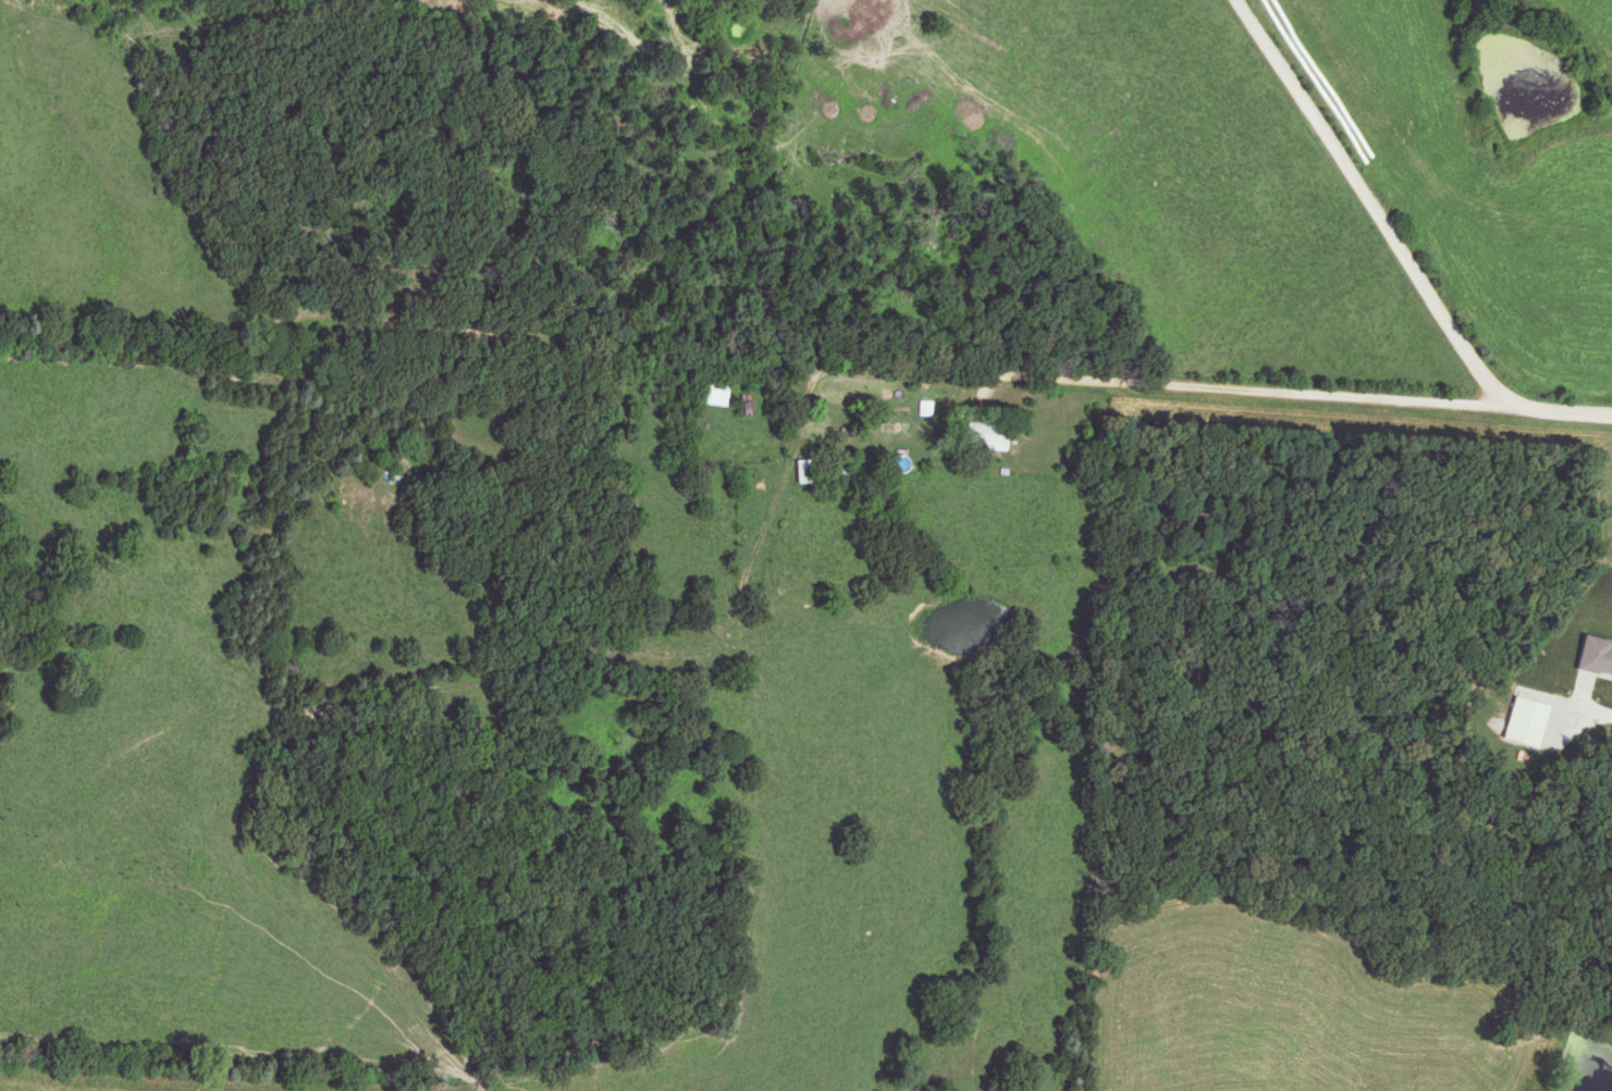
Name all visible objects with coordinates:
park: (745, 10)
building: (857, 27)
building: (873, 54)
road: (1349, 207)
building: (714, 393)
road: (1059, 407)
building: (925, 409)
building: (993, 437)
building: (809, 472)
building: (1590, 657)
road: (1590, 706)
building: (1517, 721)

